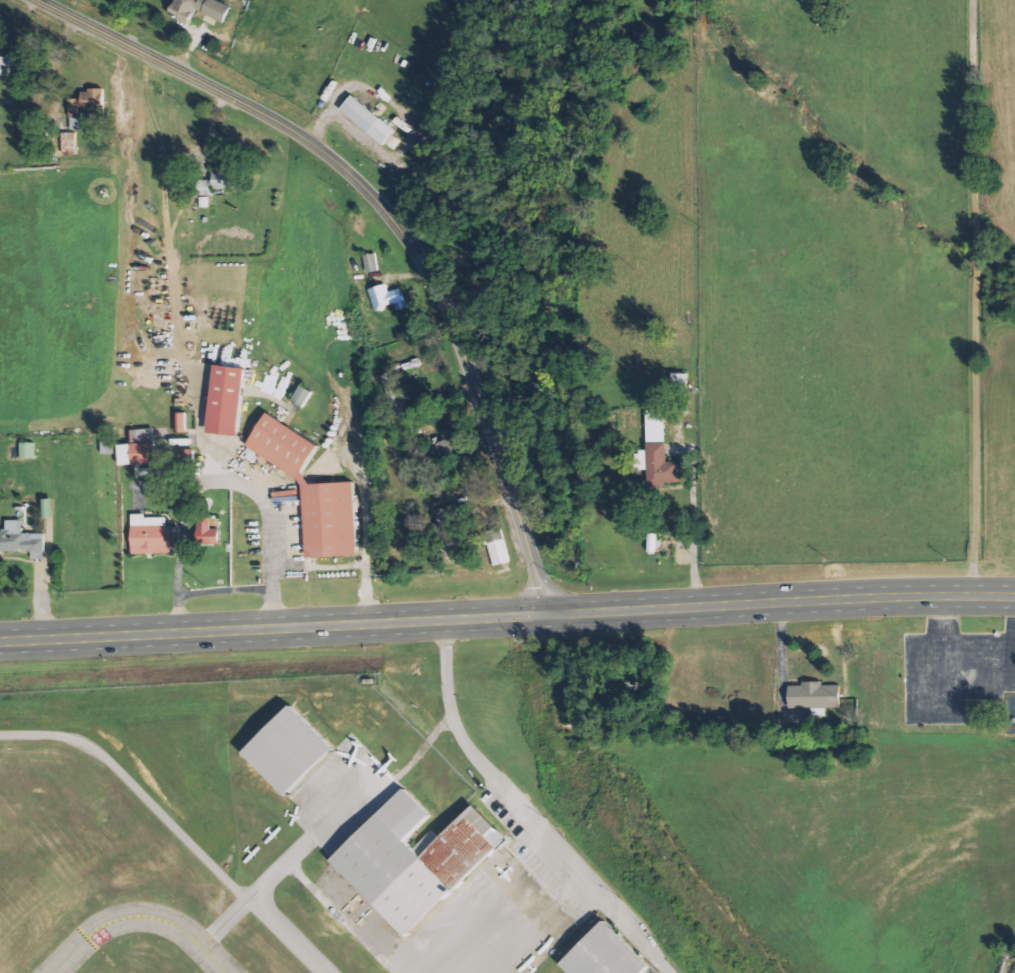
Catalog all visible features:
building: (201, 9)
building: (12, 61)
building: (86, 106)
building: (368, 120)
building: (394, 141)
building: (223, 178)
building: (206, 188)
road: (404, 222)
building: (372, 263)
building: (386, 297)
building: (396, 392)
building: (303, 397)
building: (227, 401)
building: (182, 423)
building: (140, 449)
building: (29, 450)
building: (448, 450)
building: (660, 451)
road: (217, 479)
building: (312, 491)
building: (448, 513)
building: (208, 532)
building: (151, 536)
building: (22, 541)
building: (498, 547)
road: (507, 615)
building: (815, 696)
airport hangar: (292, 748)
building: (292, 748)
airport apron: (344, 794)
road: (526, 810)
airport: (483, 836)
airport hangar: (467, 846)
building: (467, 846)
airport taxiway: (297, 852)
airport hangar: (397, 862)
building: (397, 862)
airport taxiway: (140, 916)
airport apron: (488, 925)
airport taxiway: (204, 939)
airport taxiway: (486, 940)
airport taxiway: (209, 947)
airport hangar: (606, 955)
building: (606, 955)
airport apron: (650, 971)

